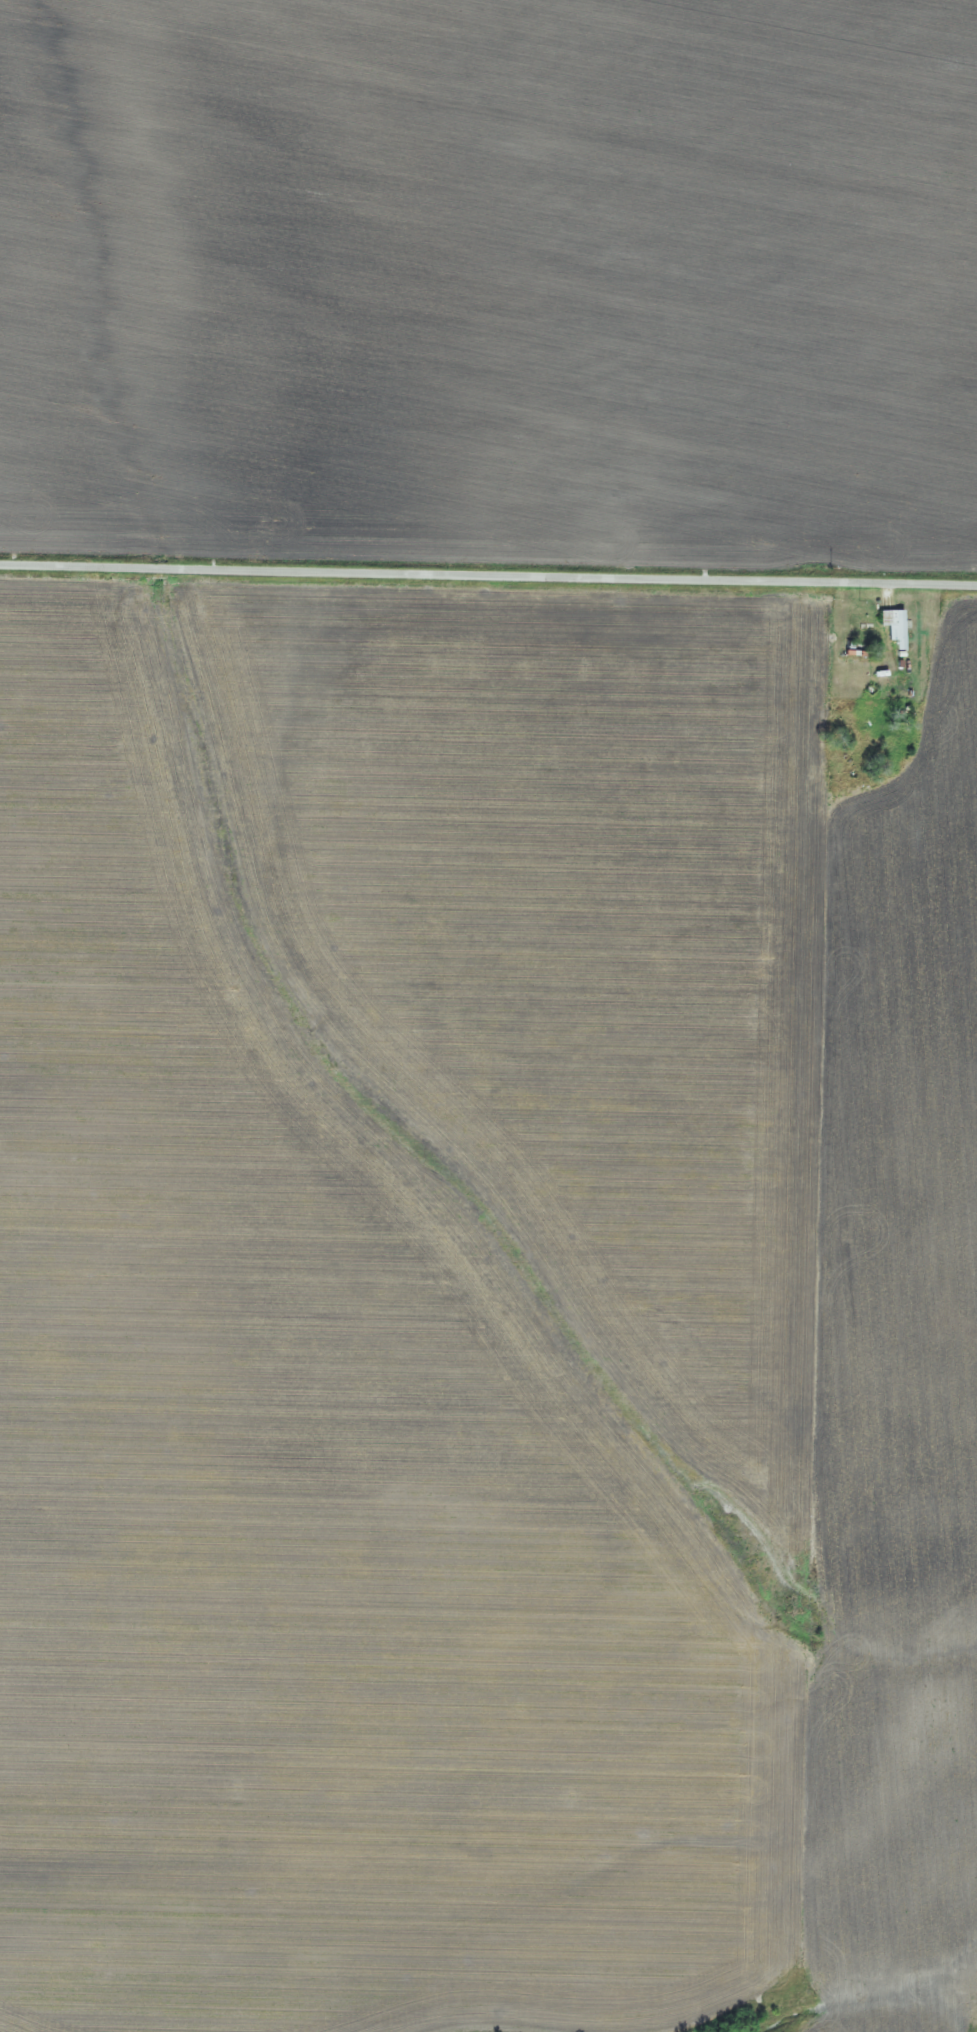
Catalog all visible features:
road: (488, 573)
building: (892, 625)

